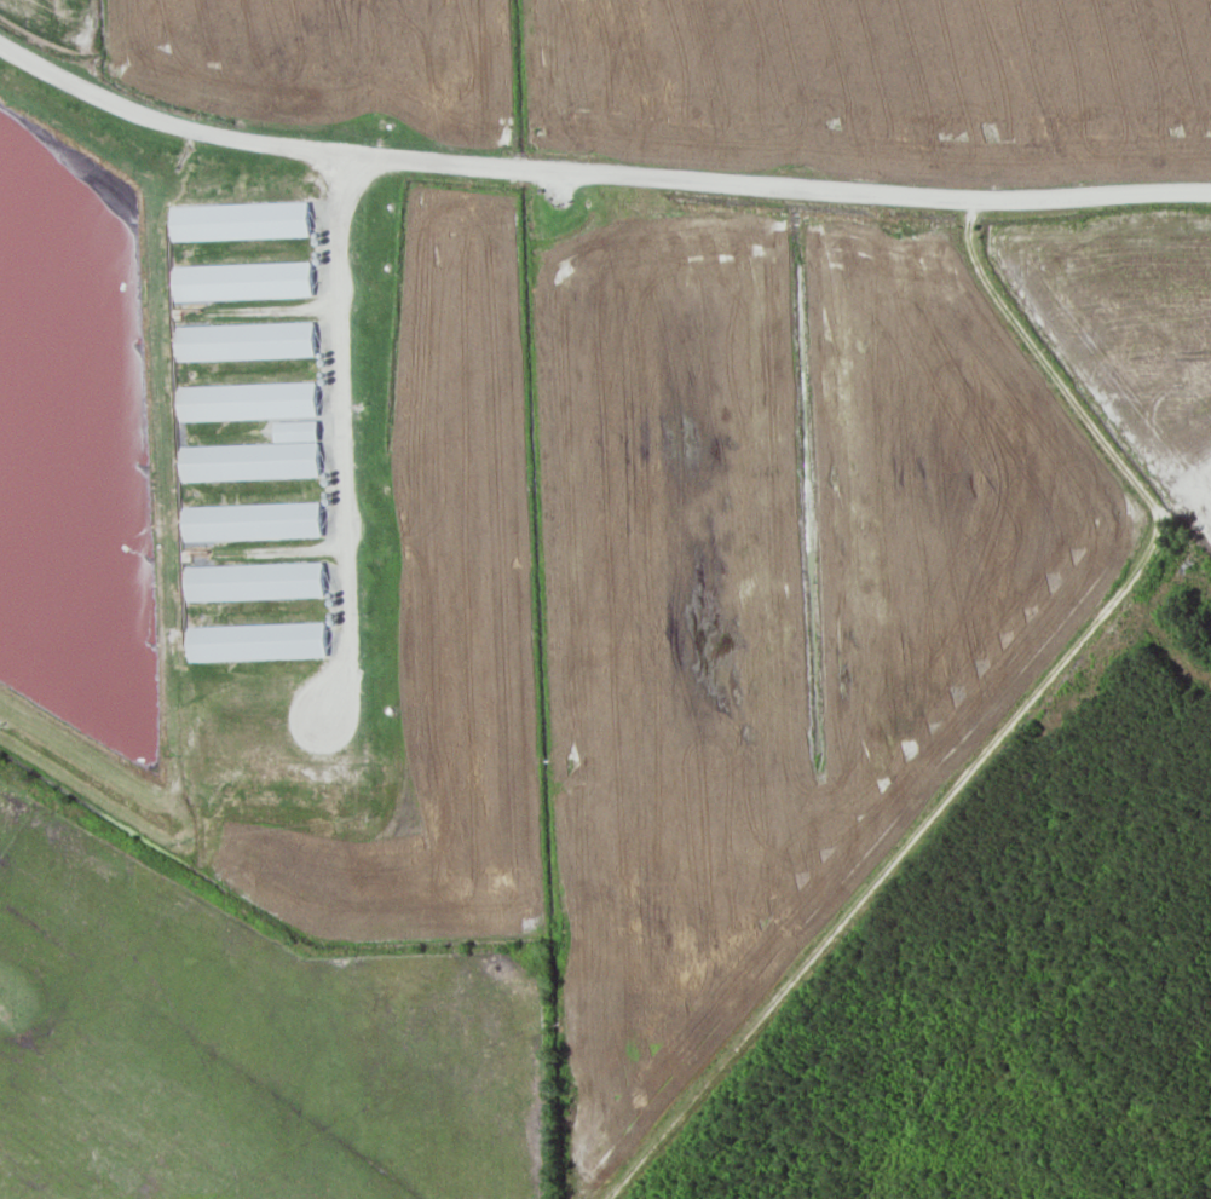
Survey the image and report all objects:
road: (594, 172)
building: (238, 219)
building: (241, 278)
building: (244, 339)
building: (243, 400)
building: (292, 430)
road: (336, 434)
building: (244, 459)
building: (248, 520)
building: (249, 580)
building: (252, 639)
road: (1013, 721)

